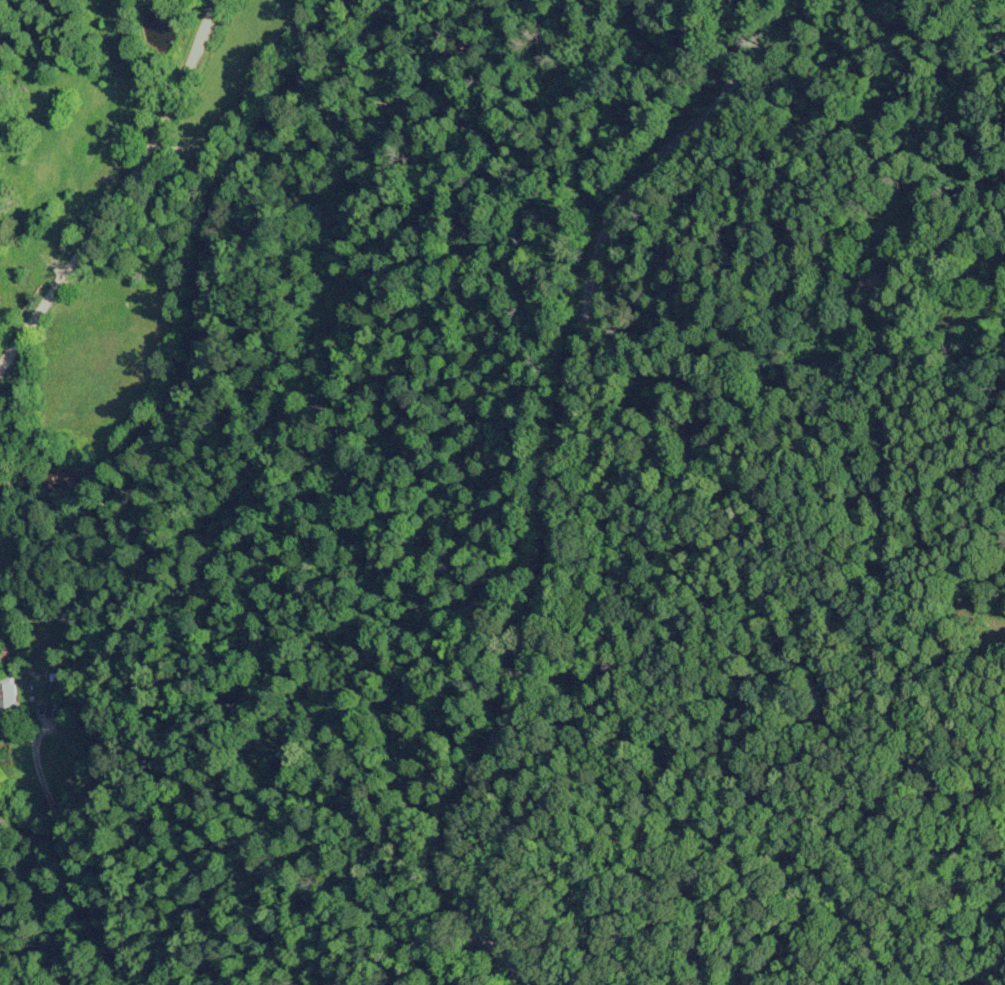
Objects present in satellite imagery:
road: (121, 188)
road: (551, 498)

